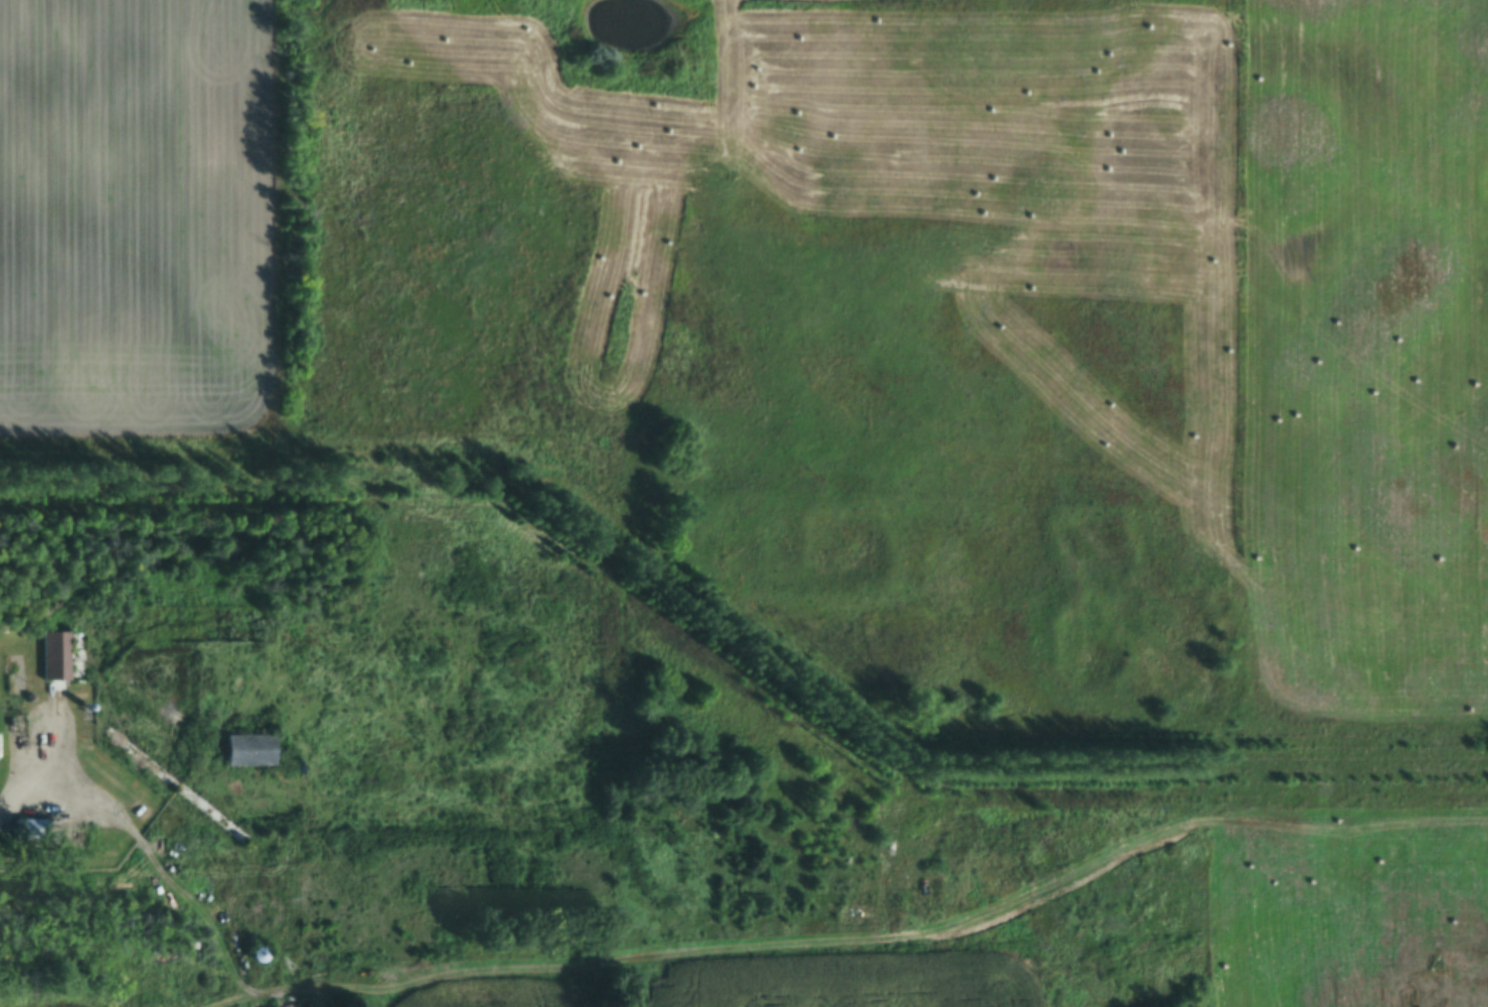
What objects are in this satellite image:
building: (57, 664)
building: (30, 707)
building: (87, 718)
silo: (87, 718)
building: (250, 758)
road: (47, 769)
road: (45, 824)
building: (25, 826)
road: (190, 901)
building: (259, 962)
silo: (259, 962)
road: (571, 980)
building: (137, 988)

